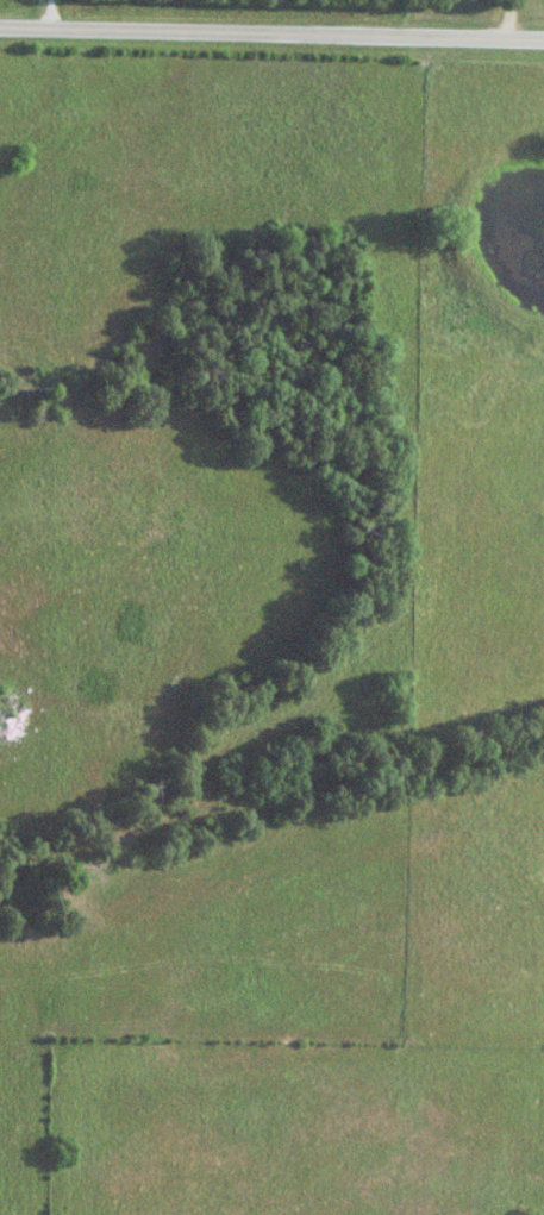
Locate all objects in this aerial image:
road: (62, 13)
road: (271, 32)

